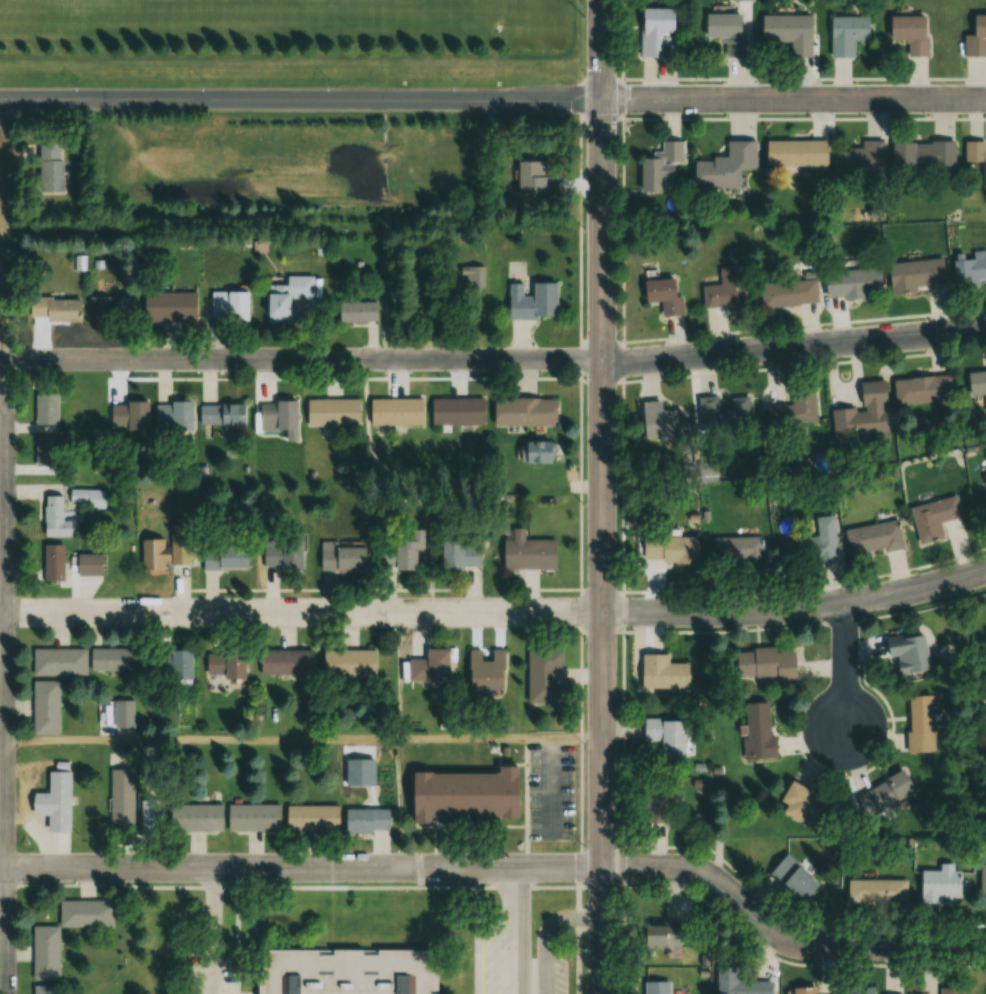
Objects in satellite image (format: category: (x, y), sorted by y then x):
park: (191, 3)
park: (313, 5)
park: (435, 5)
street lamp: (585, 14)
building: (654, 31)
building: (726, 31)
building: (910, 32)
building: (846, 34)
building: (785, 35)
building: (976, 37)
road: (300, 99)
road: (793, 100)
street lamp: (586, 124)
building: (795, 152)
building: (922, 154)
building: (976, 155)
building: (861, 159)
building: (50, 166)
building: (658, 166)
building: (724, 166)
building: (539, 177)
building: (971, 267)
building: (914, 274)
building: (472, 276)
building: (852, 283)
building: (726, 290)
building: (789, 293)
building: (663, 295)
building: (286, 297)
building: (532, 301)
building: (100, 305)
building: (229, 305)
building: (171, 306)
building: (55, 308)
building: (356, 311)
road: (493, 360)
street lamp: (586, 372)
building: (977, 384)
building: (923, 390)
building: (796, 406)
building: (46, 408)
building: (727, 410)
building: (395, 411)
building: (456, 411)
building: (523, 412)
building: (222, 414)
building: (862, 414)
building: (128, 415)
building: (173, 416)
building: (328, 416)
building: (278, 417)
building: (659, 419)
building: (536, 451)
building: (46, 453)
building: (984, 484)
building: (89, 497)
road: (602, 497)
building: (933, 516)
building: (55, 517)
building: (872, 537)
building: (811, 543)
building: (180, 544)
road: (2, 545)
building: (668, 548)
building: (406, 551)
building: (531, 551)
building: (737, 551)
building: (282, 552)
building: (153, 554)
building: (460, 555)
building: (340, 556)
building: (223, 557)
building: (53, 562)
building: (89, 563)
road: (795, 608)
road: (302, 611)
street lamp: (586, 637)
building: (907, 652)
building: (111, 659)
building: (58, 661)
building: (284, 662)
building: (350, 663)
building: (763, 663)
building: (225, 664)
building: (430, 666)
building: (179, 668)
building: (485, 672)
building: (661, 672)
building: (543, 675)
road: (845, 675)
building: (45, 707)
building: (124, 713)
building: (919, 723)
building: (756, 731)
building: (664, 735)
road: (302, 737)
building: (463, 790)
building: (884, 791)
building: (660, 795)
building: (120, 798)
building: (53, 800)
building: (799, 803)
building: (151, 813)
building: (253, 817)
building: (195, 818)
building: (310, 818)
building: (366, 820)
street lamp: (585, 846)
road: (505, 869)
building: (792, 878)
building: (982, 882)
building: (939, 885)
building: (876, 891)
road: (210, 931)
road: (518, 931)
road: (547, 931)
building: (661, 933)
street lamp: (585, 946)
building: (45, 953)
building: (345, 970)
building: (739, 983)
building: (656, 987)
building: (948, 988)
building: (46, 989)
building: (802, 990)
building: (860, 990)

